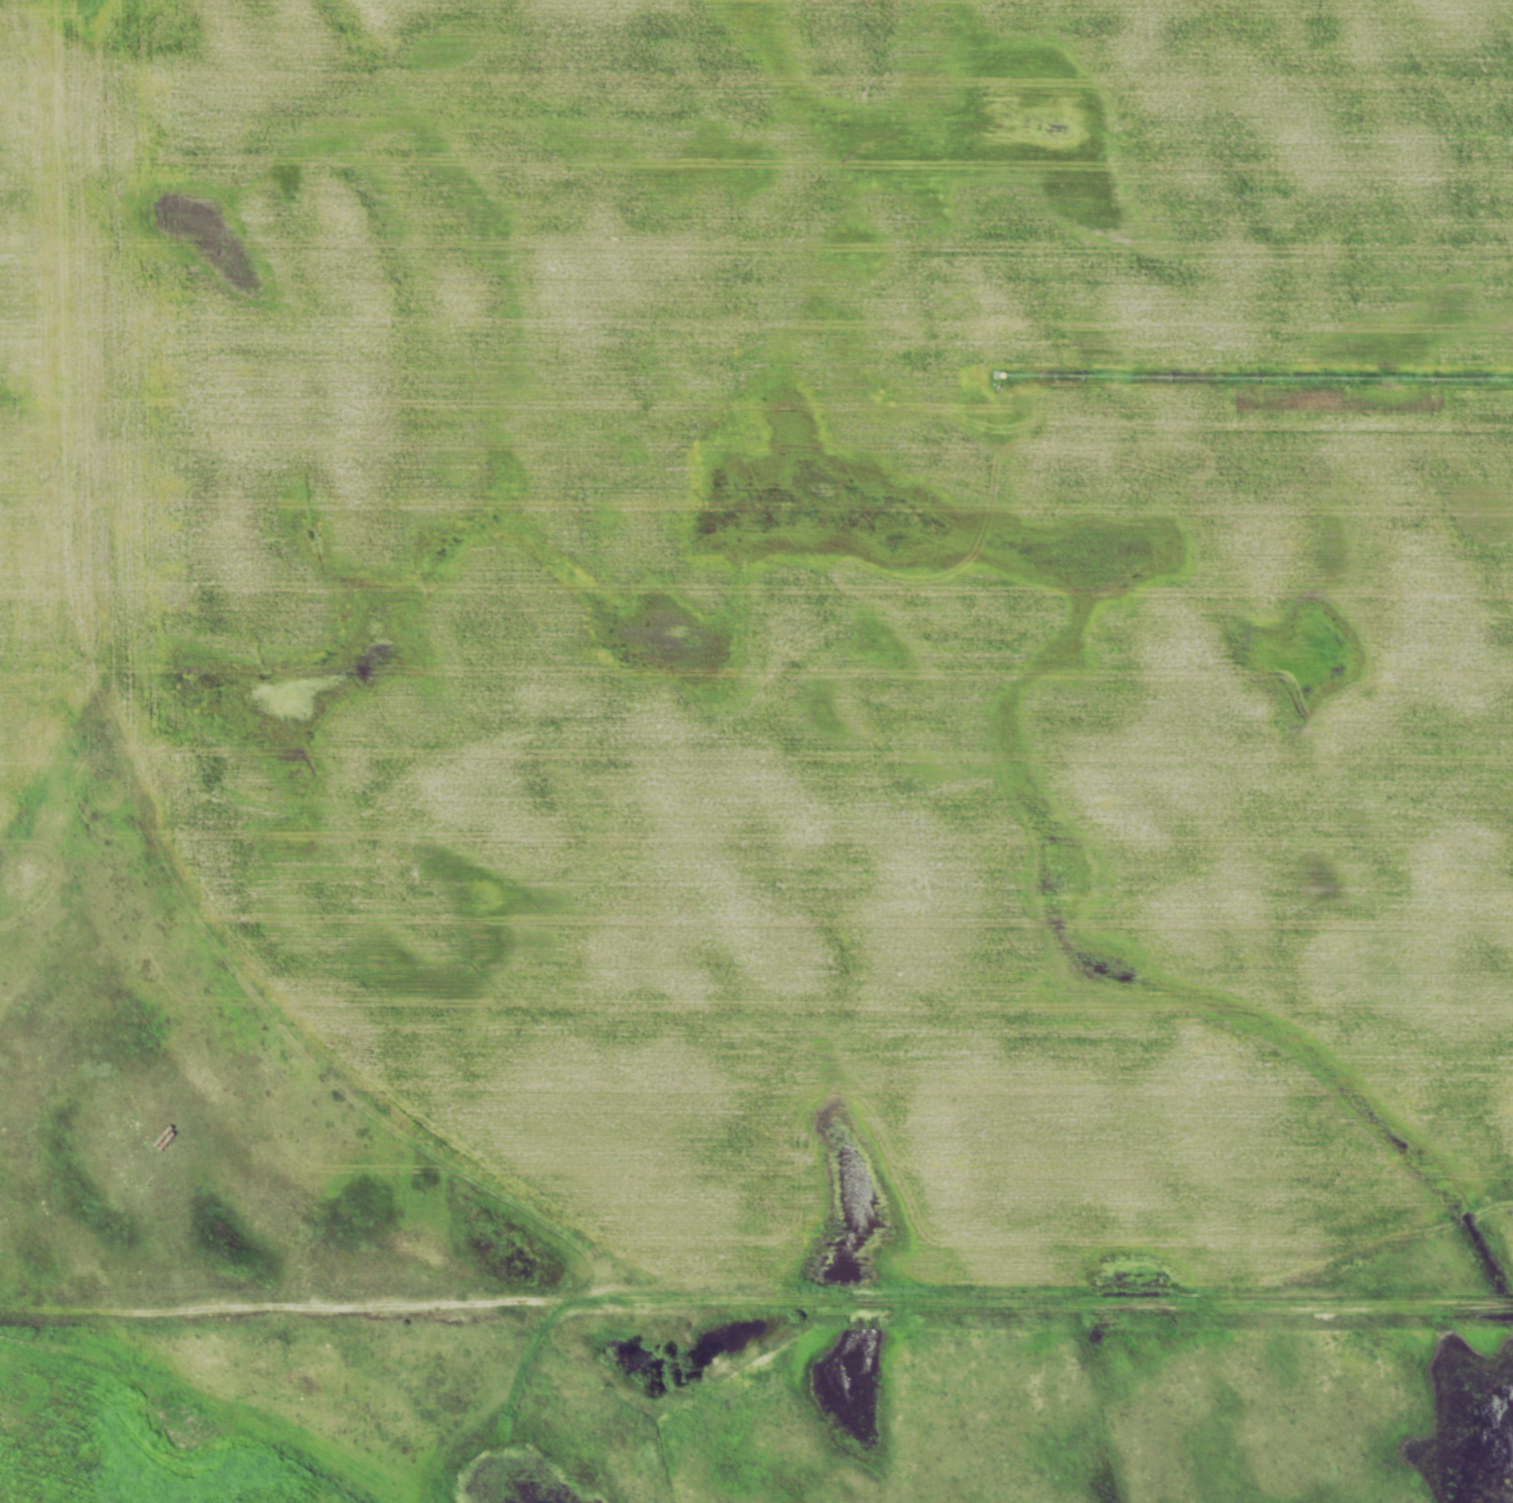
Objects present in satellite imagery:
road: (756, 1307)

